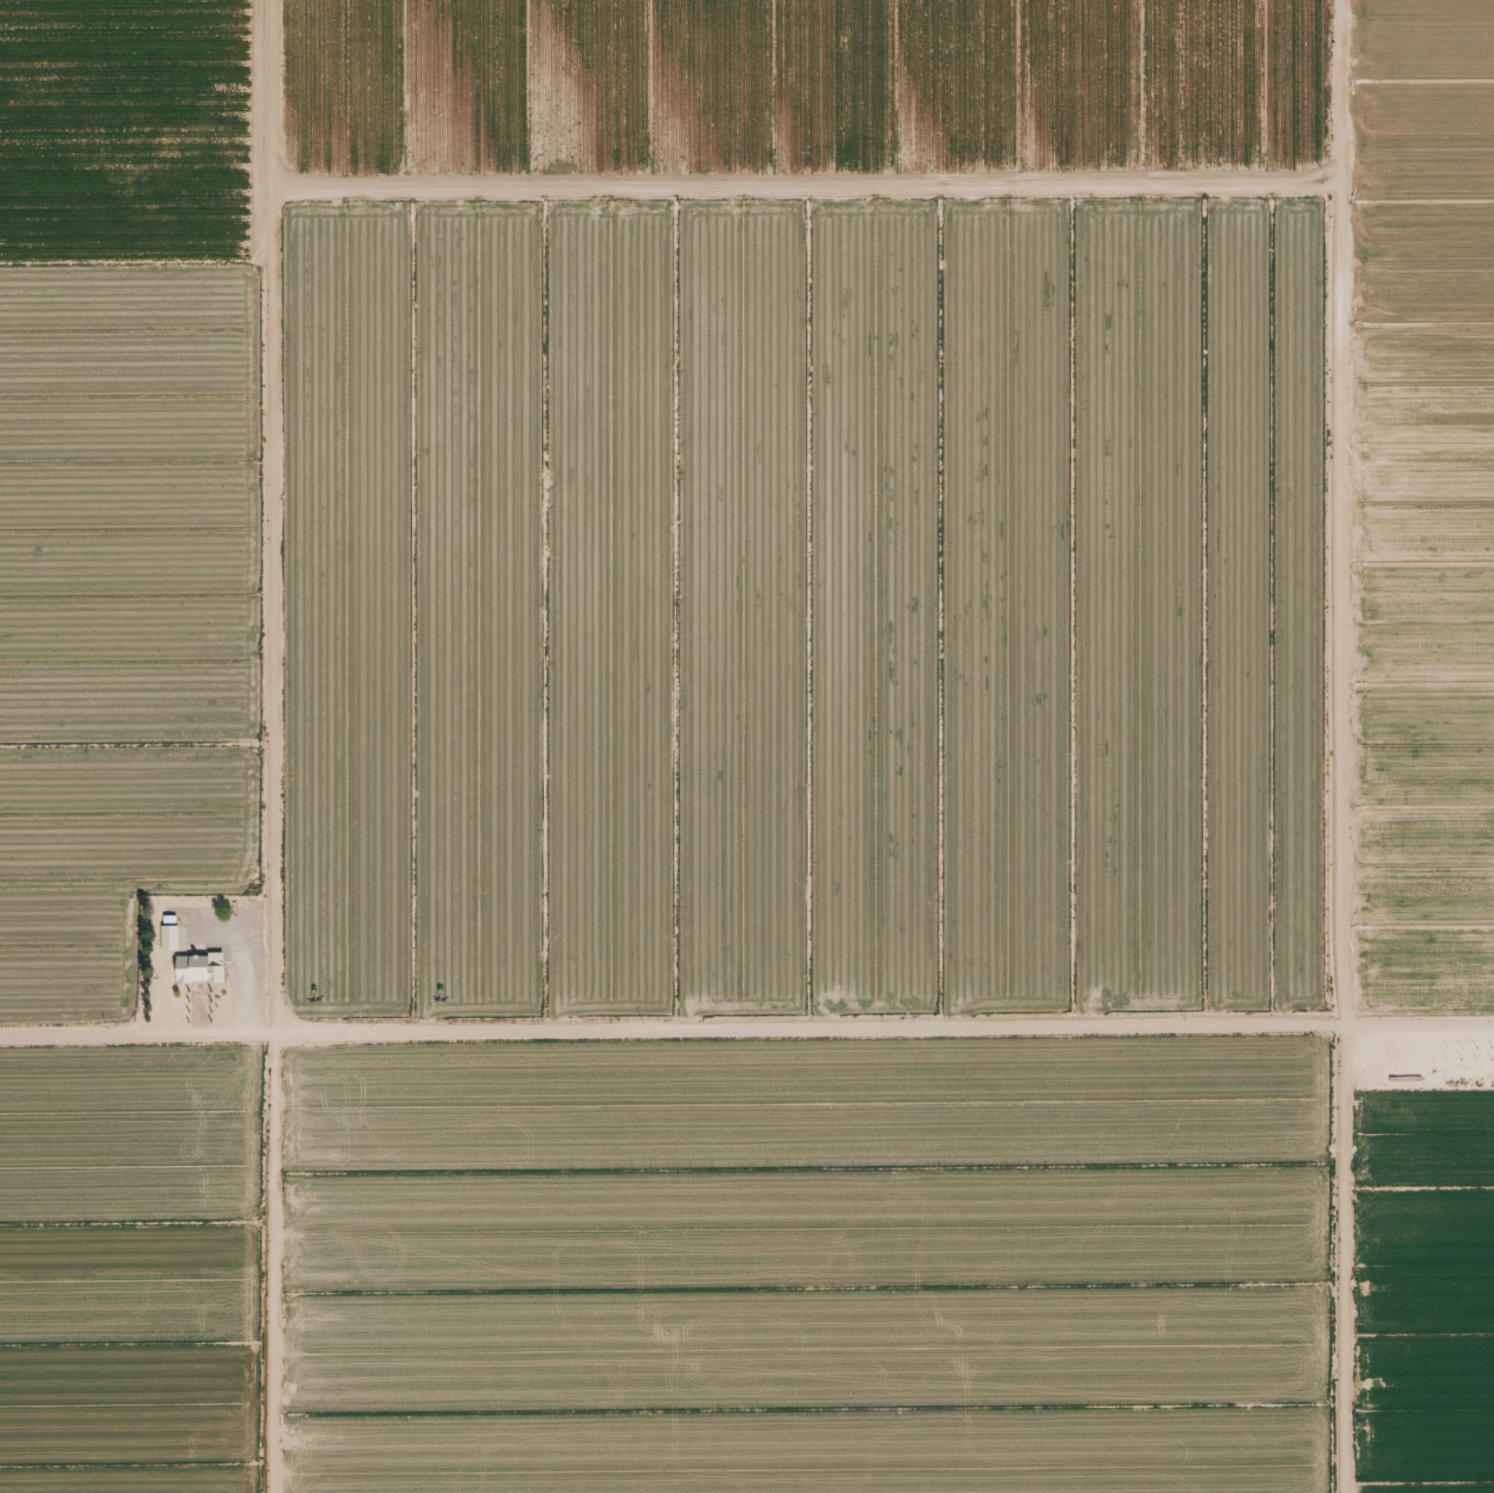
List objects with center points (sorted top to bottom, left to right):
road: (806, 186)
road: (275, 746)
road: (1342, 746)
building: (169, 931)
building: (199, 967)
road: (1419, 1025)
road: (1115, 1026)
road: (443, 1032)

